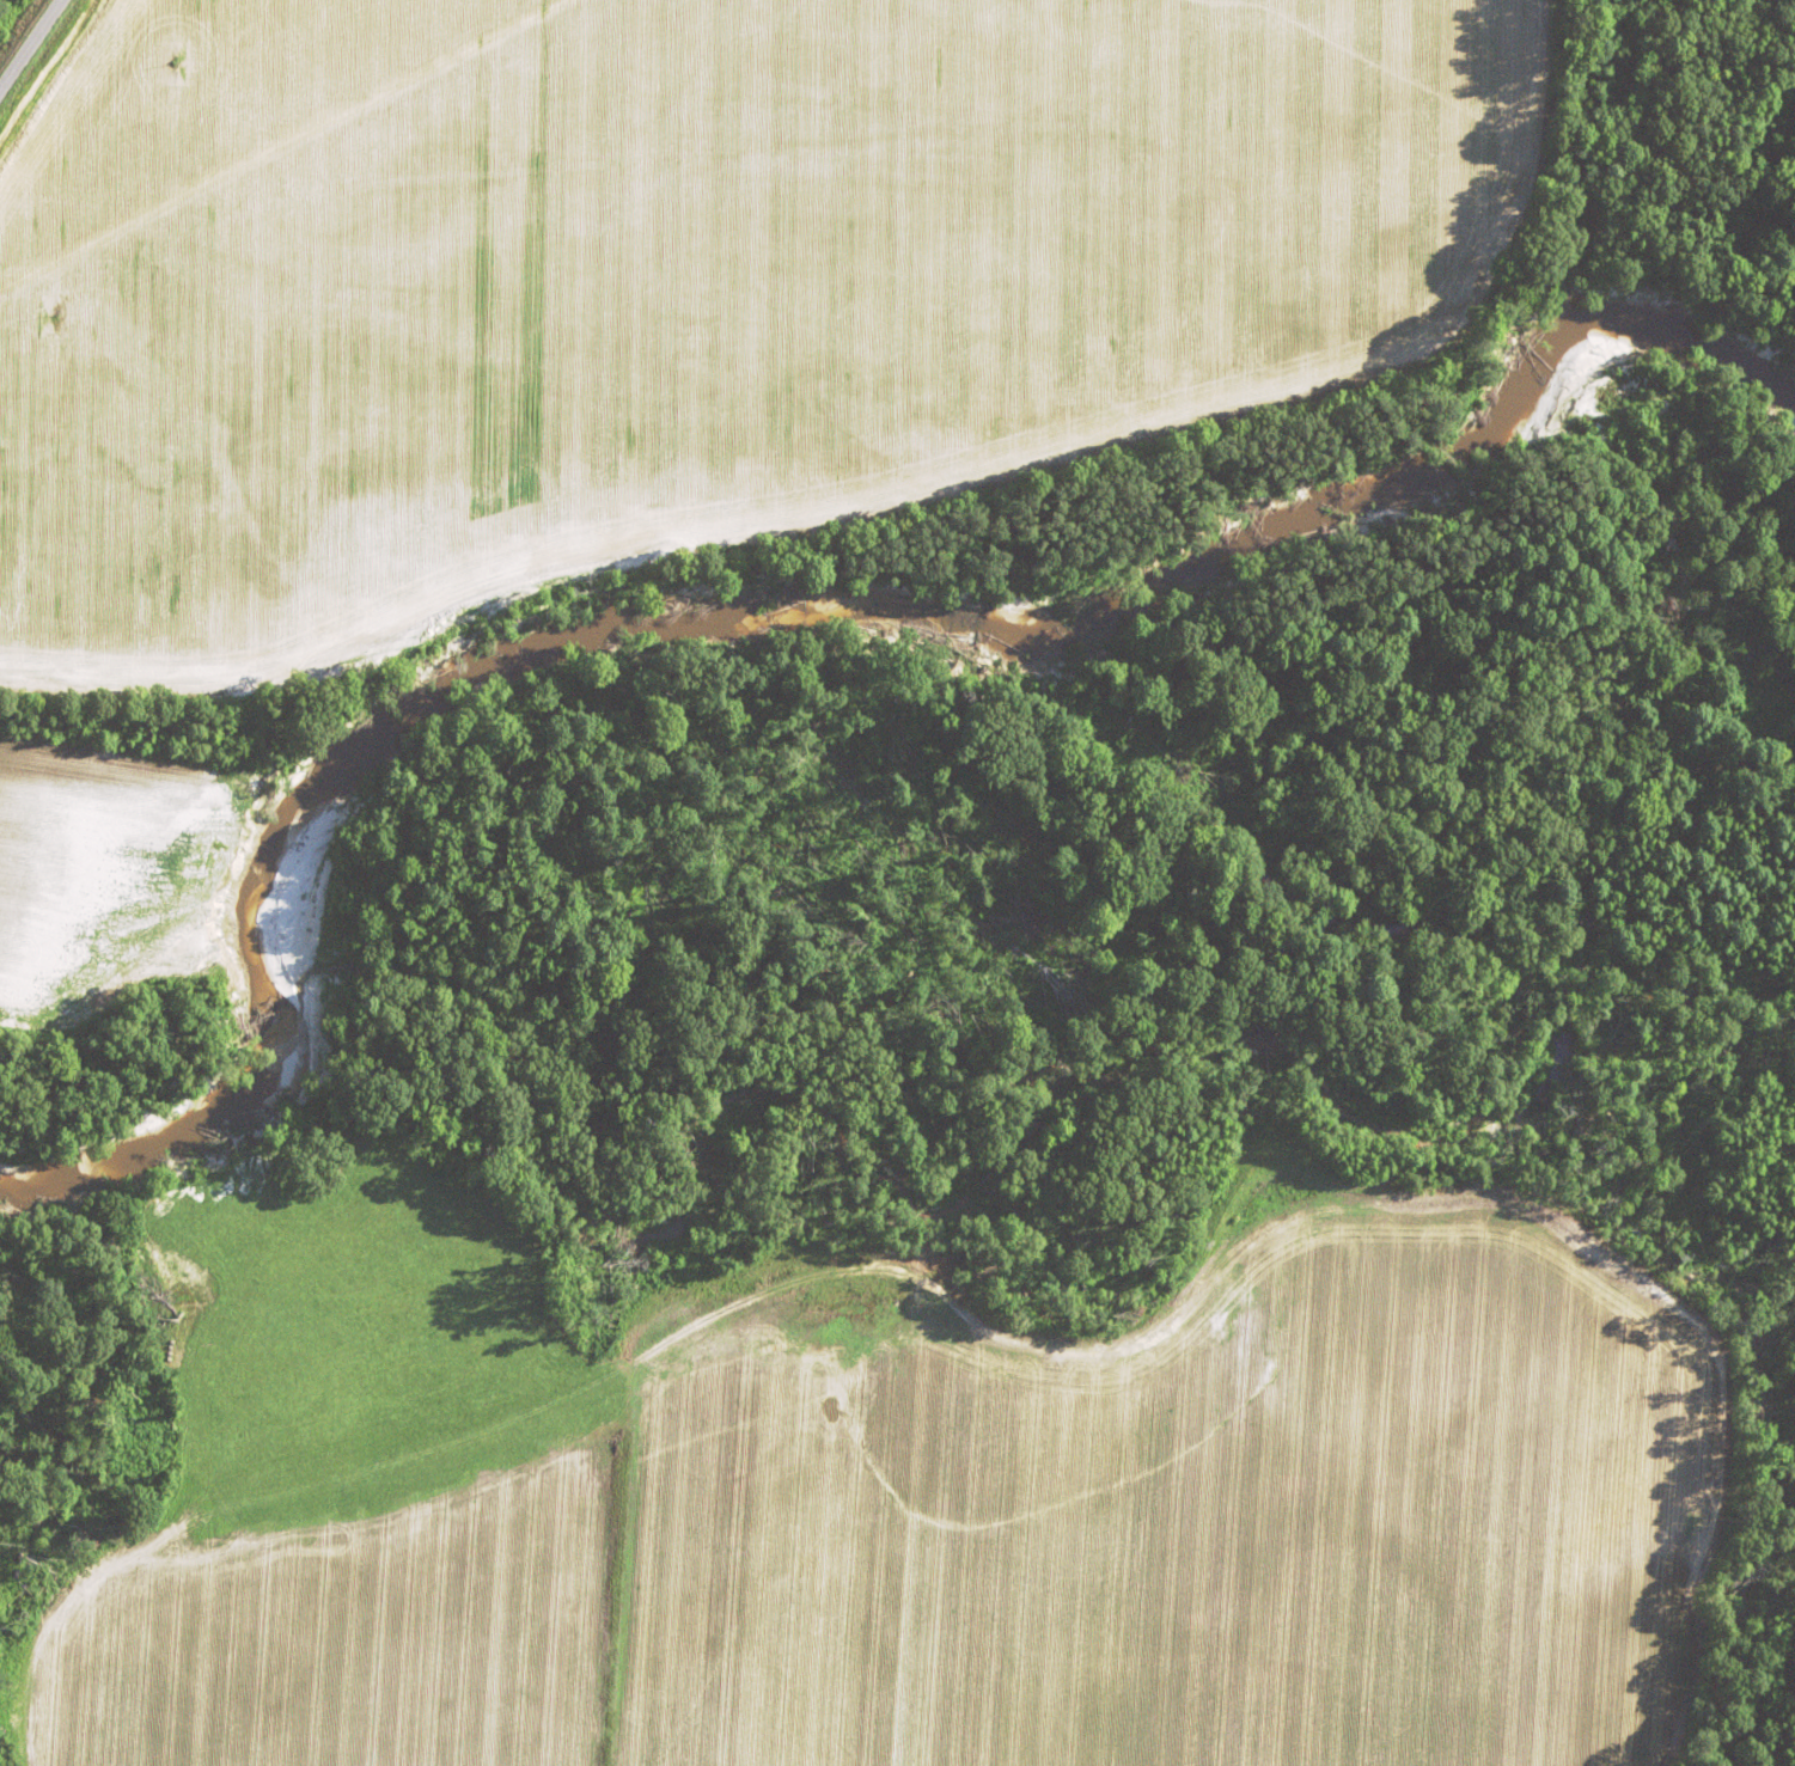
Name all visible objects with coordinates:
road: (28, 39)

